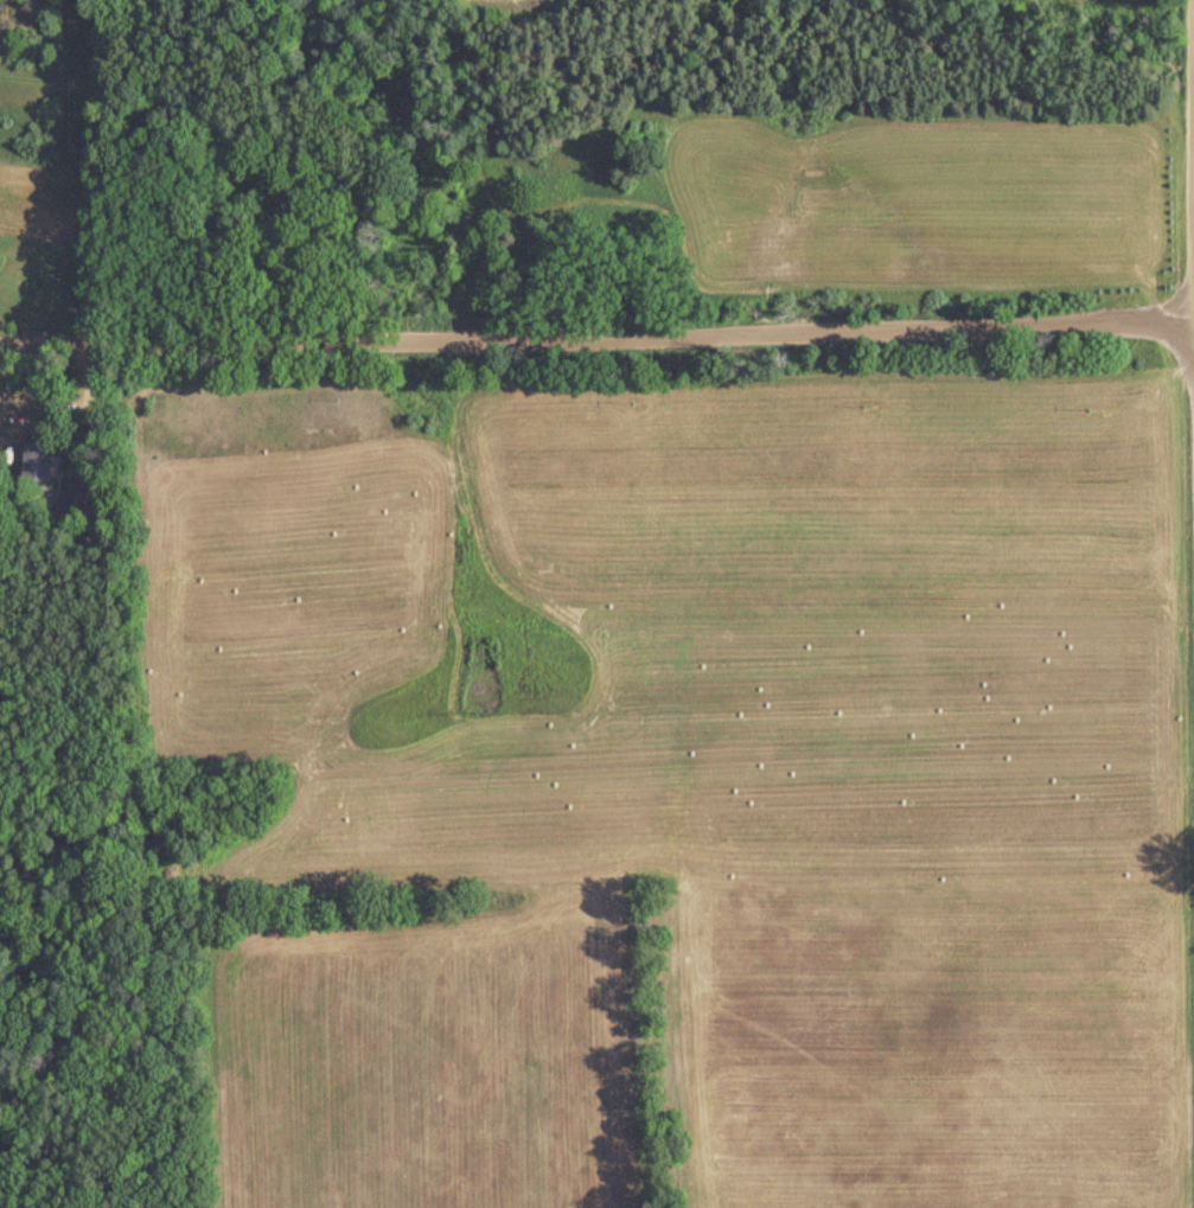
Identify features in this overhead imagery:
road: (1193, 92)
road: (596, 324)
building: (33, 466)

